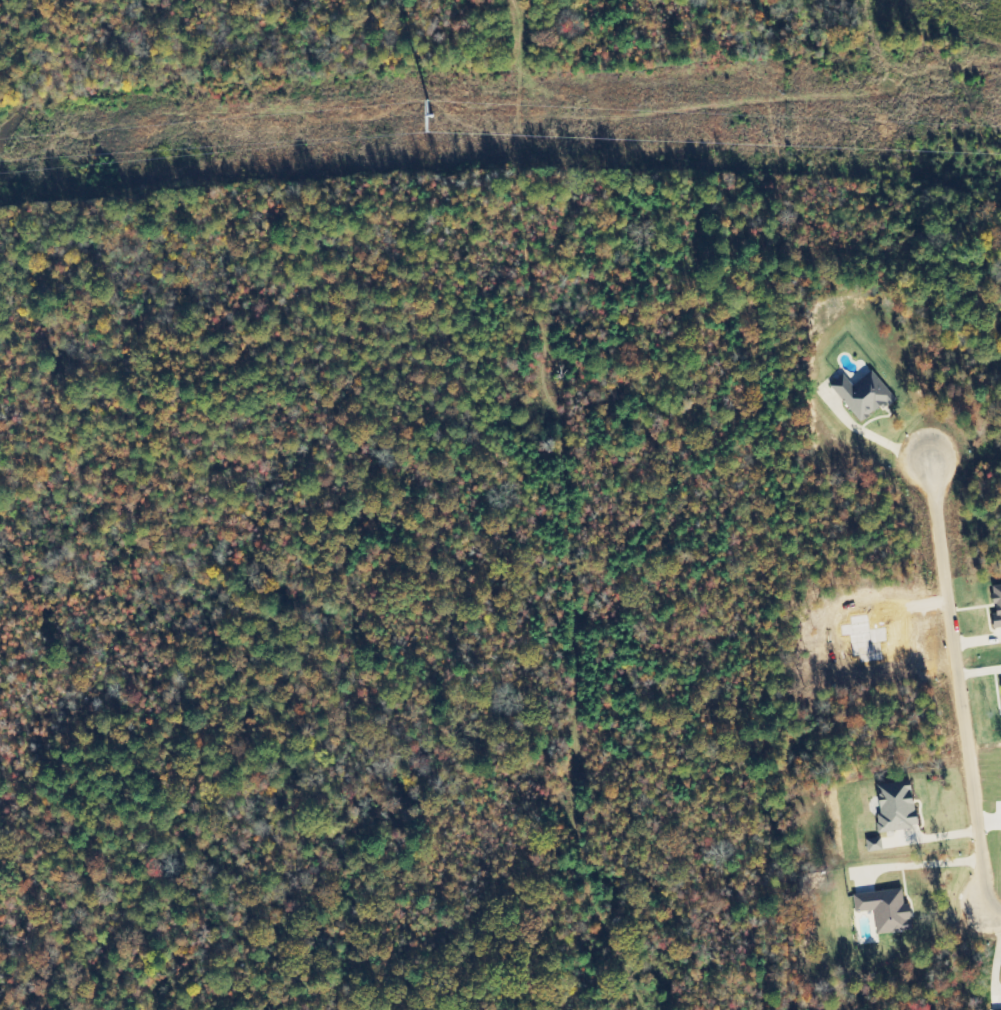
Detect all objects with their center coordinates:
power tower: (447, 113)
building: (864, 395)
building: (997, 606)
building: (897, 806)
building: (886, 910)

